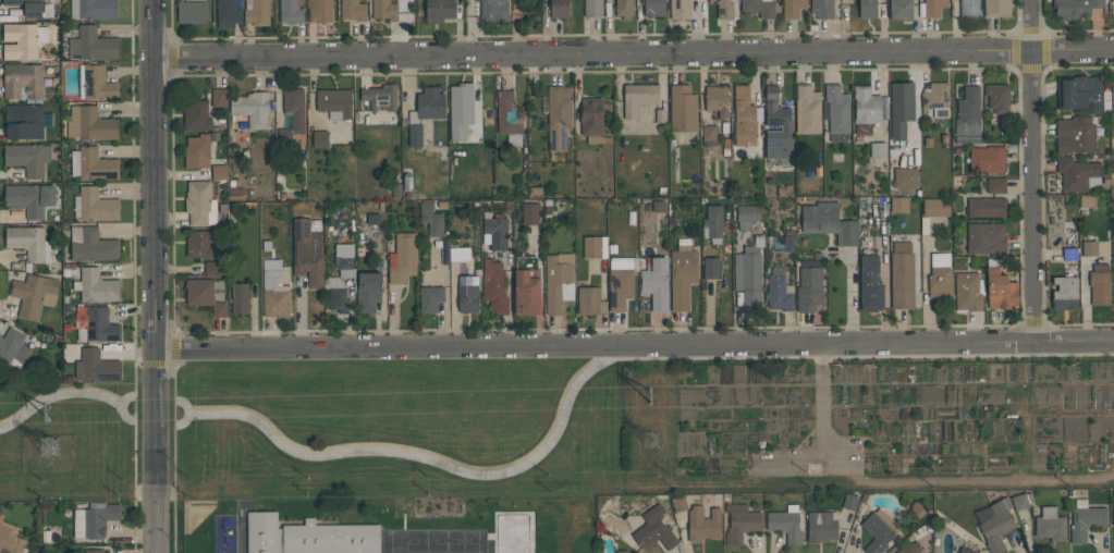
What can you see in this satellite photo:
building: (1112, 1)
building: (29, 7)
building: (1113, 7)
building: (592, 8)
building: (624, 8)
building: (653, 8)
building: (726, 8)
building: (759, 8)
building: (792, 8)
building: (822, 8)
building: (933, 8)
building: (997, 8)
building: (1075, 8)
building: (94, 9)
building: (559, 9)
building: (867, 9)
building: (969, 9)
building: (353, 10)
building: (384, 10)
building: (439, 10)
building: (493, 10)
building: (680, 10)
building: (901, 10)
building: (291, 11)
building: (319, 11)
building: (192, 12)
building: (228, 13)
building: (23, 40)
building: (90, 44)
road: (635, 52)
building: (23, 79)
building: (95, 83)
building: (1079, 93)
building: (219, 97)
building: (380, 97)
building: (997, 97)
building: (638, 98)
building: (717, 99)
building: (935, 99)
building: (334, 102)
building: (430, 103)
building: (1113, 106)
building: (252, 108)
building: (294, 108)
building: (683, 109)
building: (807, 109)
building: (837, 109)
building: (901, 109)
building: (461, 110)
building: (866, 110)
building: (968, 112)
building: (507, 114)
building: (196, 115)
building: (559, 116)
building: (744, 116)
building: (592, 120)
building: (23, 121)
building: (89, 124)
building: (776, 125)
building: (415, 134)
building: (1076, 134)
building: (709, 135)
building: (320, 138)
building: (878, 150)
building: (197, 151)
building: (28, 158)
building: (987, 160)
building: (93, 164)
road: (1031, 170)
building: (219, 171)
building: (1078, 174)
building: (906, 177)
building: (995, 185)
building: (30, 198)
building: (1087, 199)
building: (200, 202)
building: (95, 205)
building: (899, 205)
building: (659, 206)
building: (935, 207)
building: (986, 207)
building: (529, 213)
building: (746, 216)
building: (431, 219)
building: (828, 222)
building: (712, 223)
building: (493, 231)
building: (986, 237)
building: (788, 241)
building: (30, 243)
building: (198, 244)
building: (91, 245)
building: (595, 247)
building: (1089, 248)
building: (308, 253)
building: (1069, 254)
building: (402, 258)
building: (344, 260)
building: (211, 268)
building: (711, 268)
road: (154, 275)
building: (902, 275)
building: (940, 275)
road: (133, 276)
building: (682, 276)
building: (748, 276)
building: (558, 282)
building: (620, 282)
building: (656, 282)
building: (870, 284)
building: (1099, 284)
building: (95, 285)
building: (494, 285)
building: (809, 286)
building: (274, 290)
building: (368, 291)
building: (779, 291)
building: (968, 291)
building: (1000, 291)
building: (526, 292)
building: (467, 293)
building: (1064, 293)
building: (34, 294)
building: (336, 294)
building: (204, 295)
building: (240, 297)
building: (430, 298)
building: (588, 300)
building: (94, 323)
road: (633, 343)
building: (13, 347)
road: (853, 357)
road: (169, 364)
building: (96, 367)
road: (68, 393)
power tower: (653, 395)
road: (124, 396)
road: (188, 411)
power tower: (52, 415)
park: (323, 431)
power tower: (646, 444)
power tower: (49, 453)
road: (173, 457)
road: (420, 457)
road: (910, 478)
building: (1021, 500)
building: (849, 501)
building: (678, 503)
building: (1113, 516)
building: (94, 519)
building: (1086, 519)
building: (740, 523)
building: (994, 523)
building: (703, 524)
building: (1050, 524)
building: (785, 525)
building: (821, 526)
building: (653, 529)
building: (879, 530)
building: (261, 532)
building: (10, 538)
building: (330, 539)
building: (909, 548)
building: (94, 551)
building: (621, 551)
building: (965, 551)

